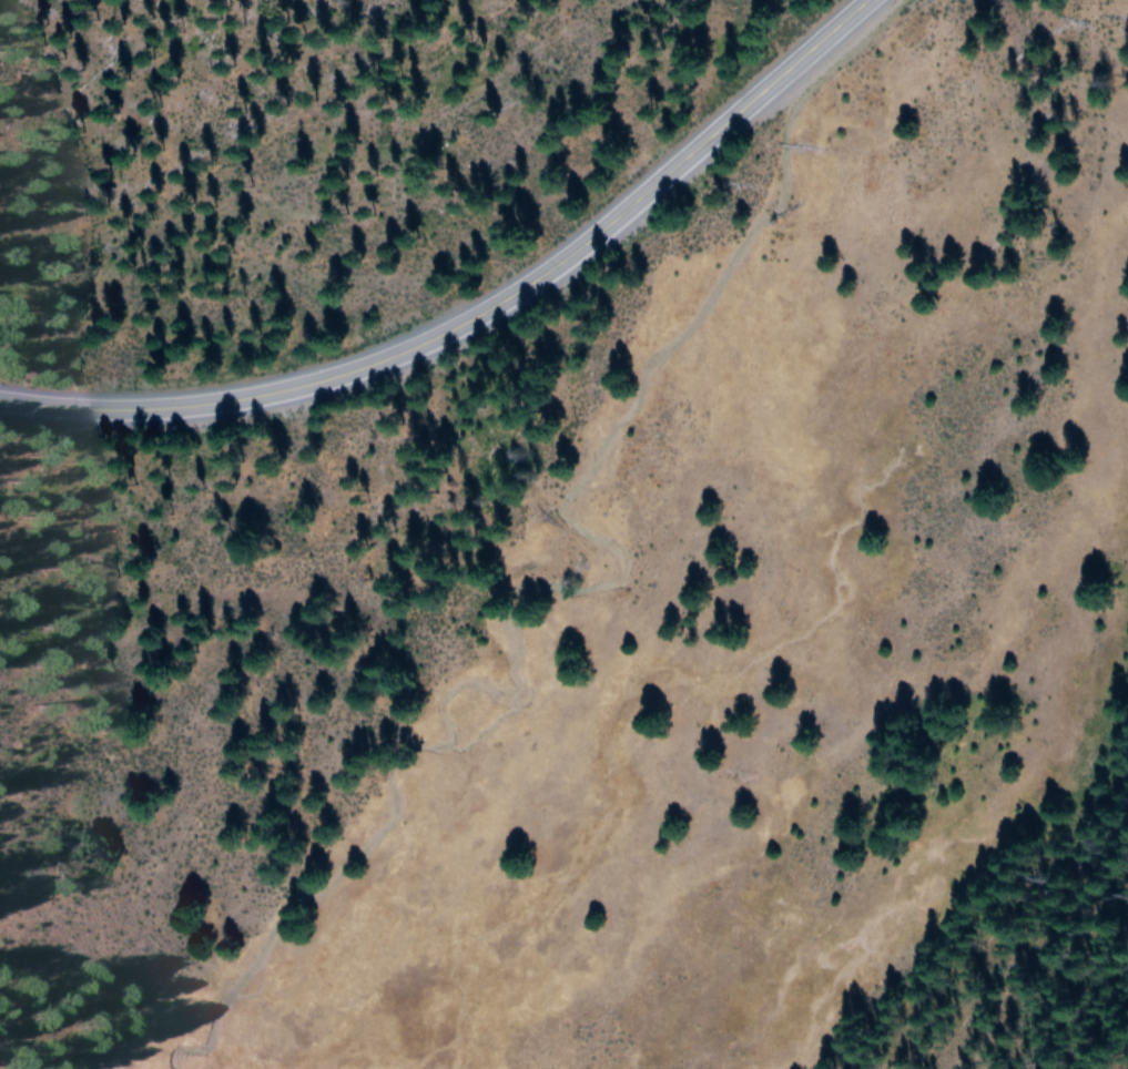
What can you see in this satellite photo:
road: (480, 312)

